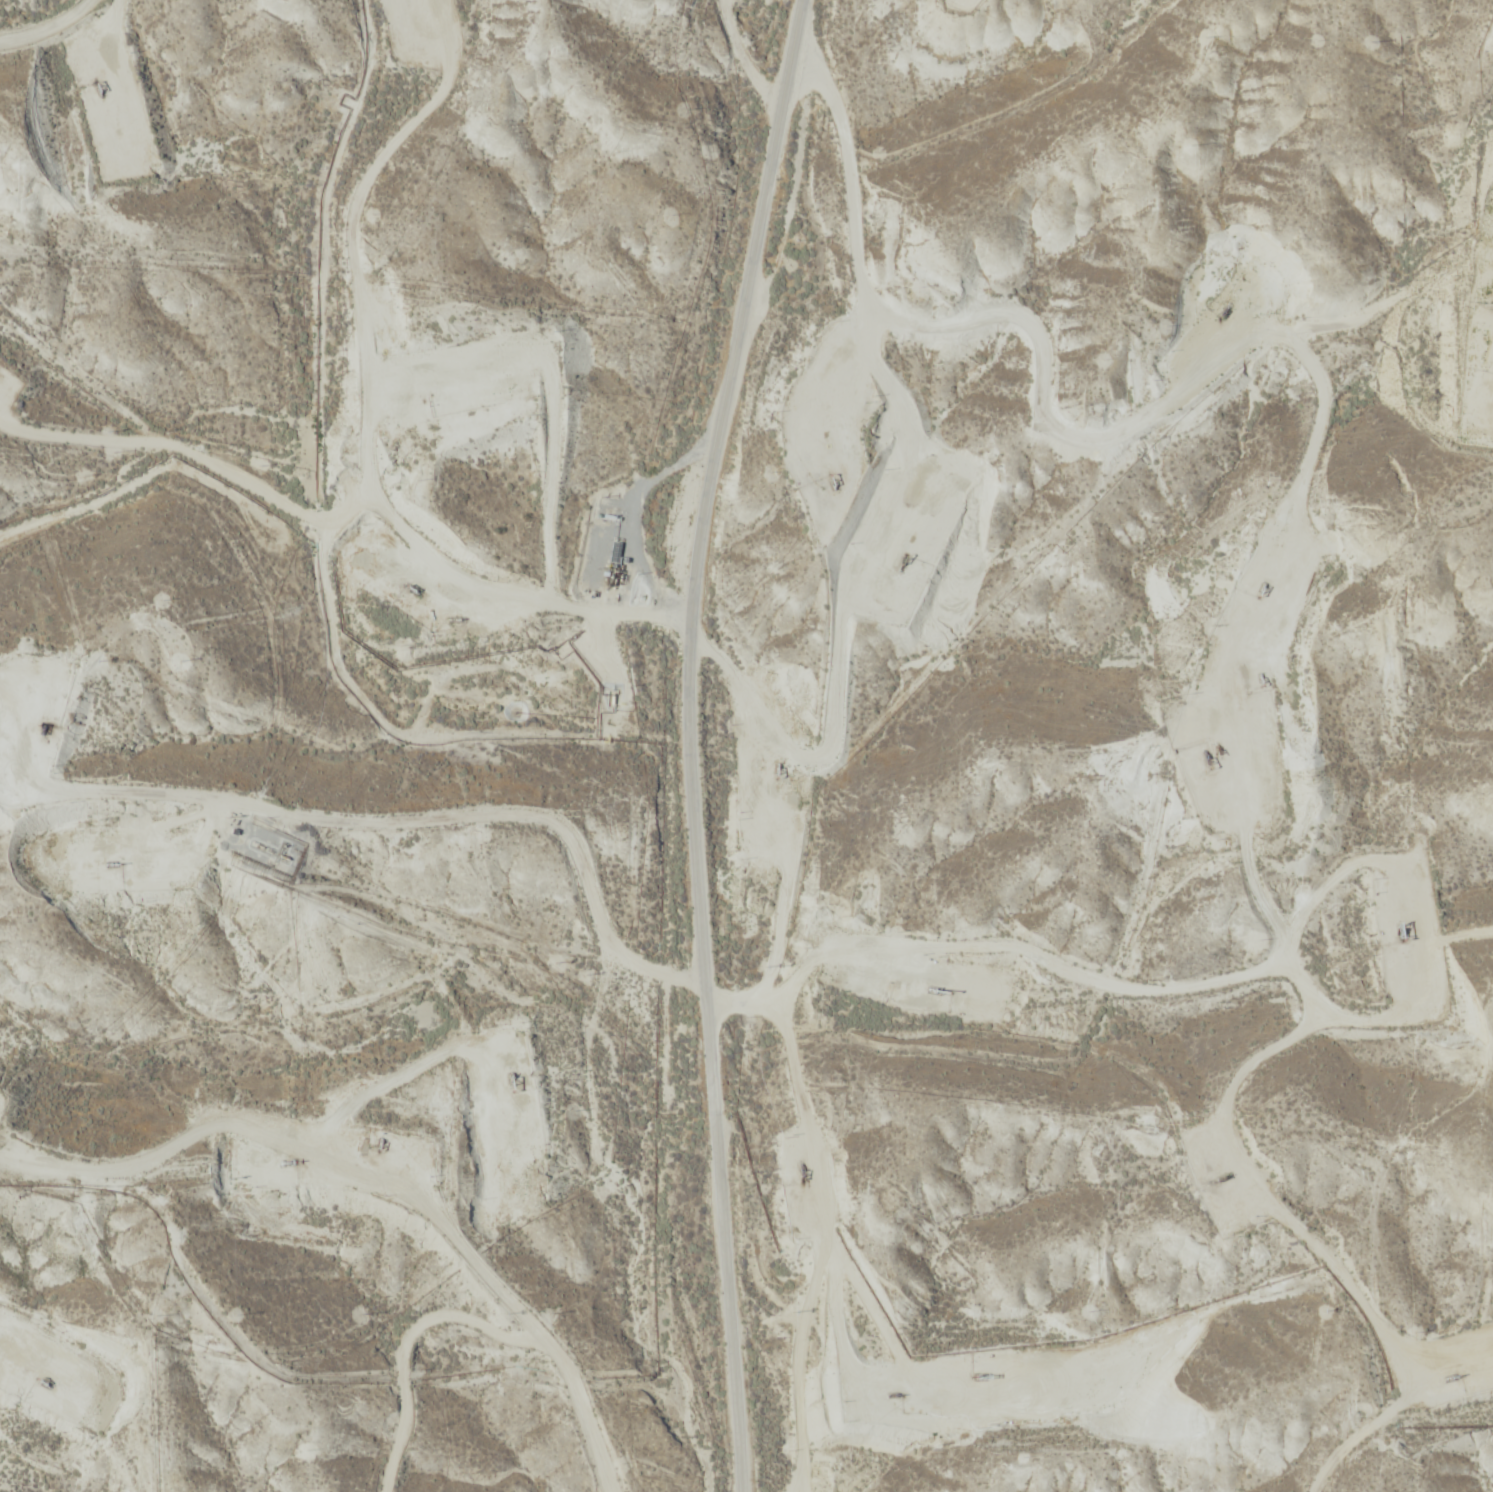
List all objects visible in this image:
road: (1090, 387)
road: (383, 423)
road: (195, 461)
petroleum well: (834, 481)
petroleum well: (899, 566)
road: (66, 677)
road: (689, 741)
road: (398, 806)
petroleum well: (938, 990)
petroleum well: (510, 1080)
road: (397, 1166)
petroleum well: (802, 1170)
petroleum well: (982, 1376)
petroleum well: (895, 1394)
road: (1389, 1403)

